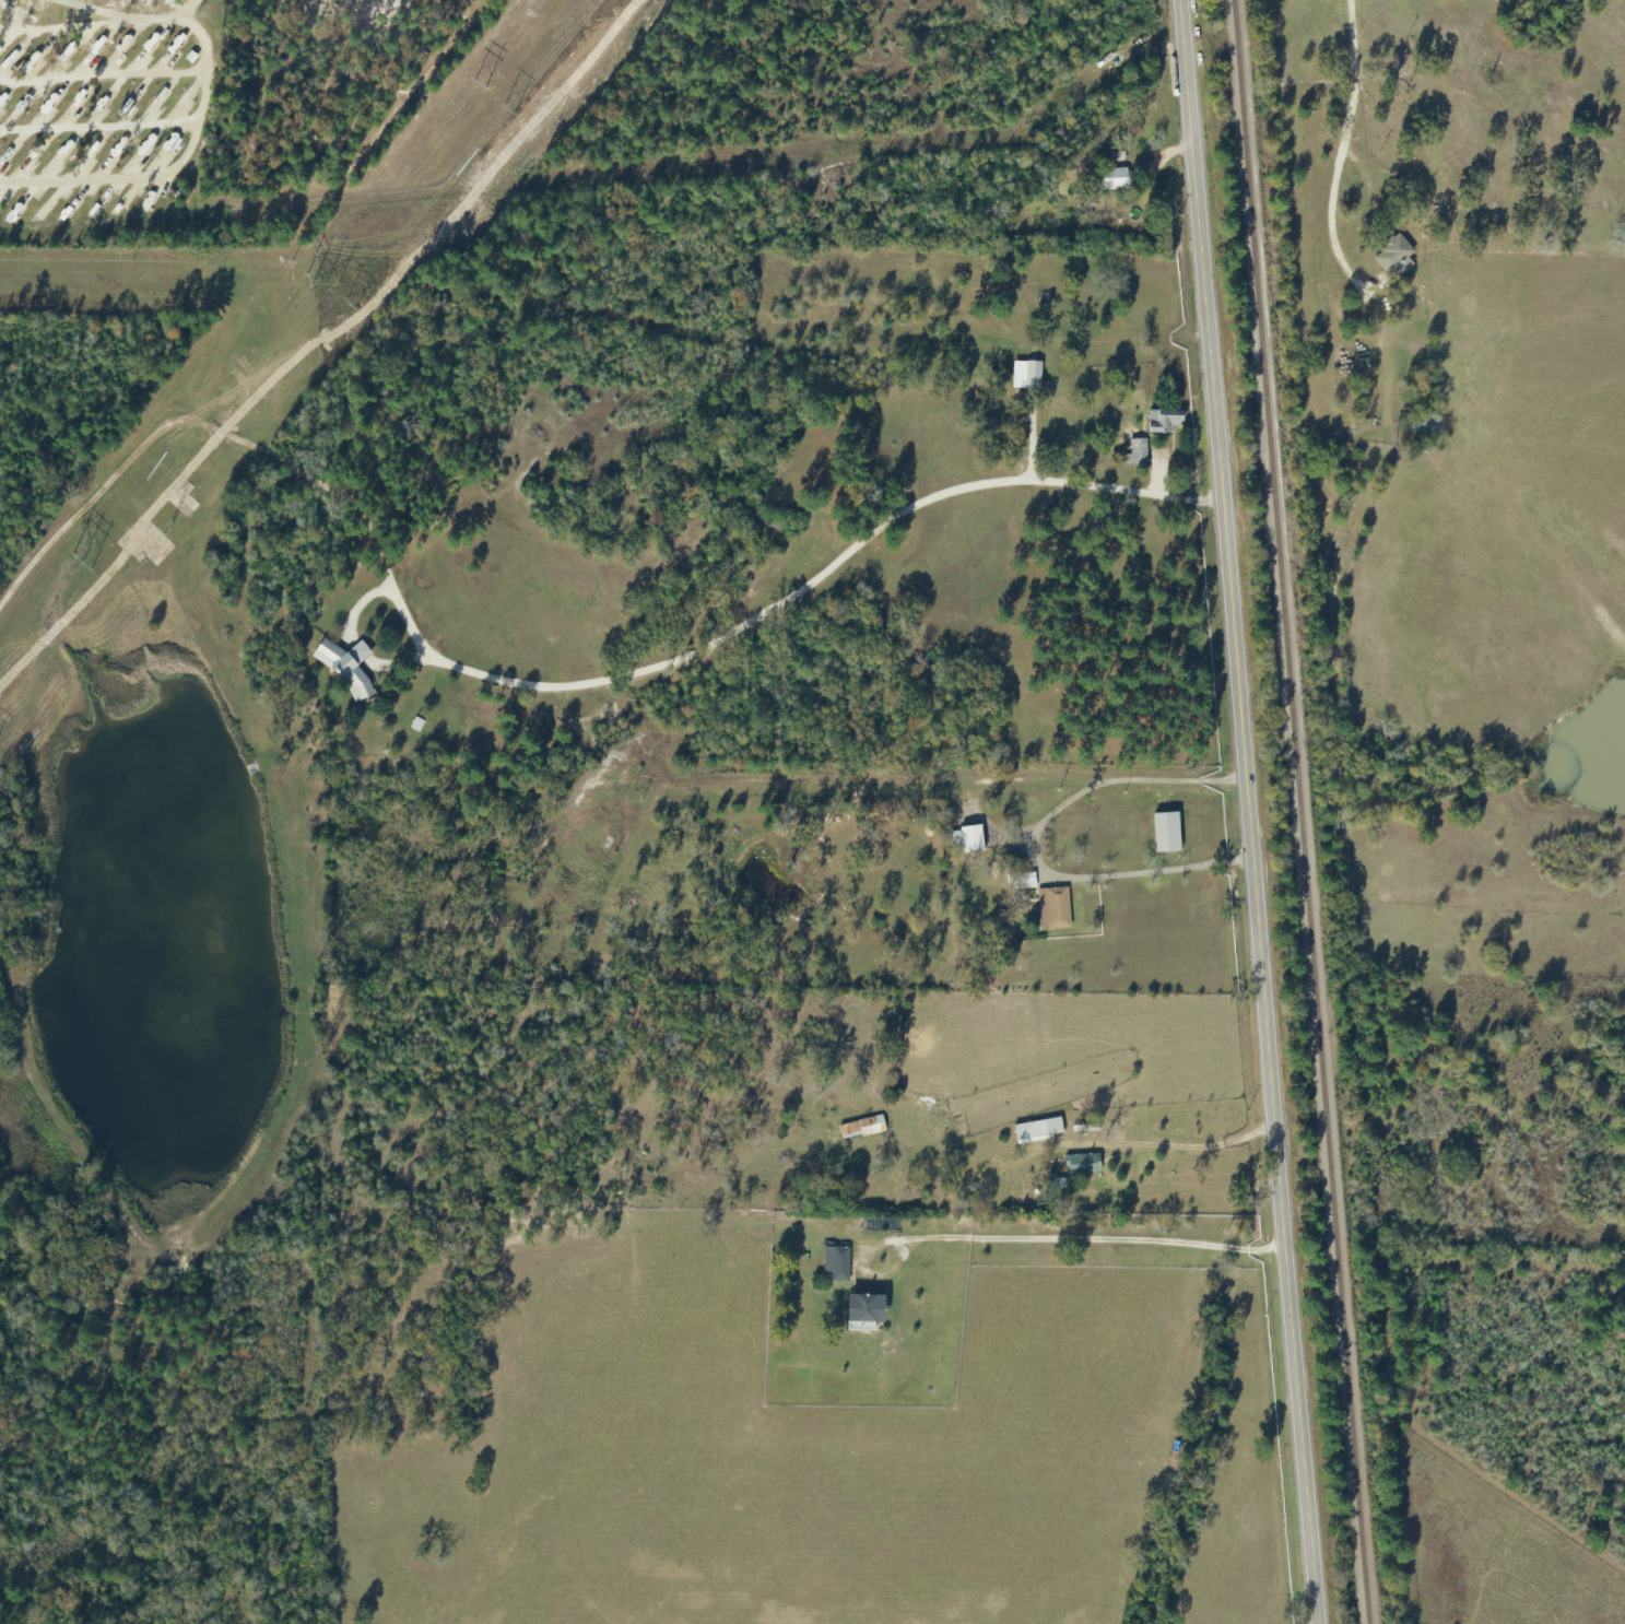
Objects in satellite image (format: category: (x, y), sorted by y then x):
road: (61, 25)
power tower: (475, 81)
power tower: (507, 114)
road: (198, 118)
road: (1357, 172)
building: (1112, 180)
building: (1392, 257)
power tower: (322, 284)
power tower: (349, 302)
building: (1031, 377)
building: (1162, 423)
building: (1422, 426)
building: (1134, 452)
power tower: (163, 522)
power tower: (73, 549)
building: (341, 666)
road: (1248, 812)
railway: (1298, 812)
building: (1165, 834)
building: (969, 840)
building: (1023, 882)
building: (1051, 910)
building: (860, 1130)
building: (1028, 1133)
road: (1192, 1146)
building: (1082, 1165)
road: (1080, 1237)
building: (835, 1264)
building: (861, 1314)

